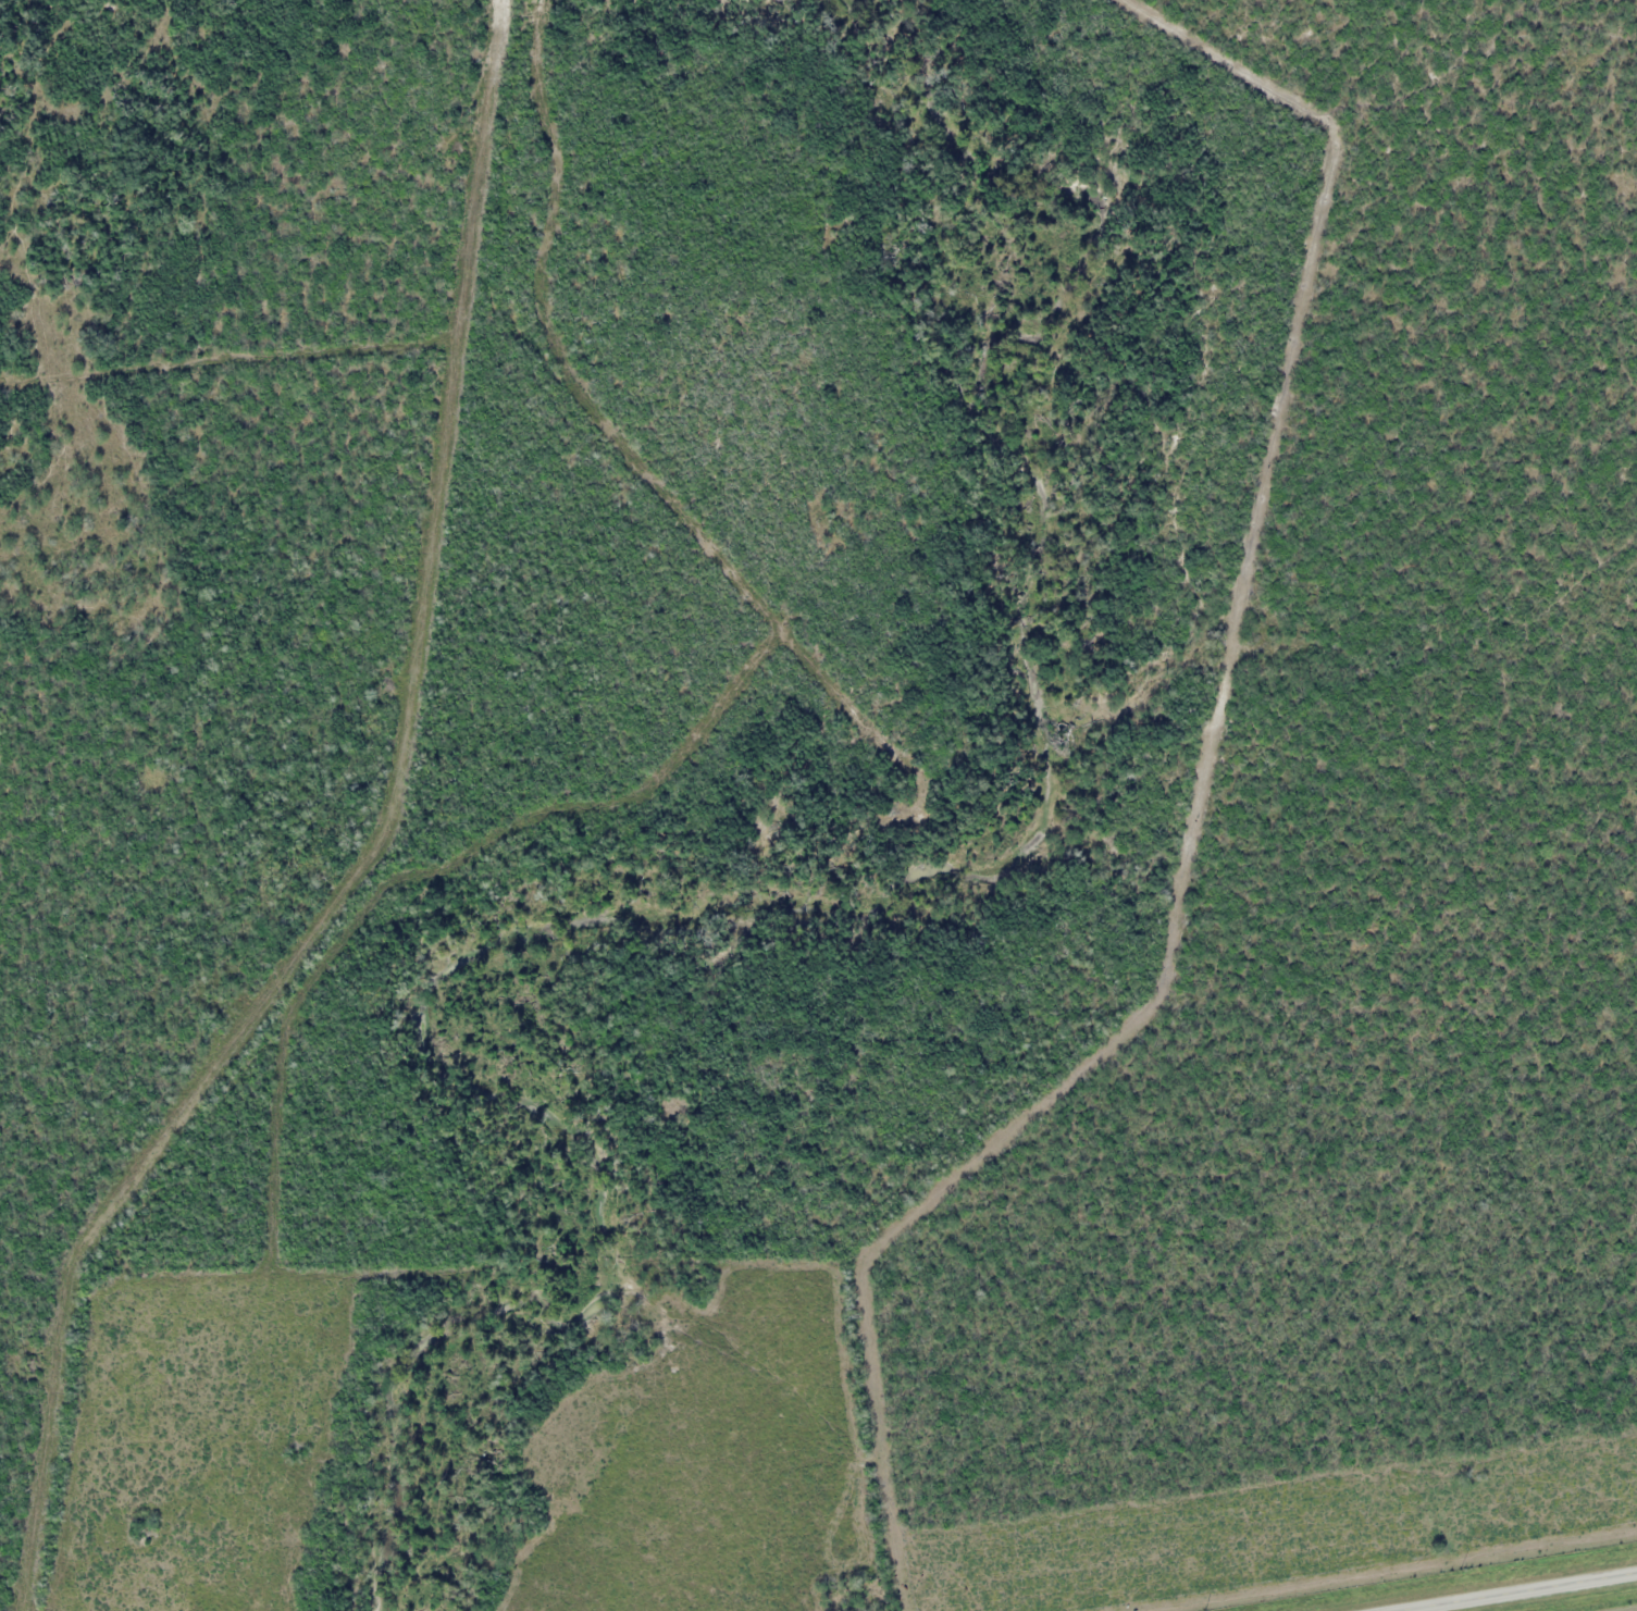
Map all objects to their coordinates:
road: (1508, 1589)

